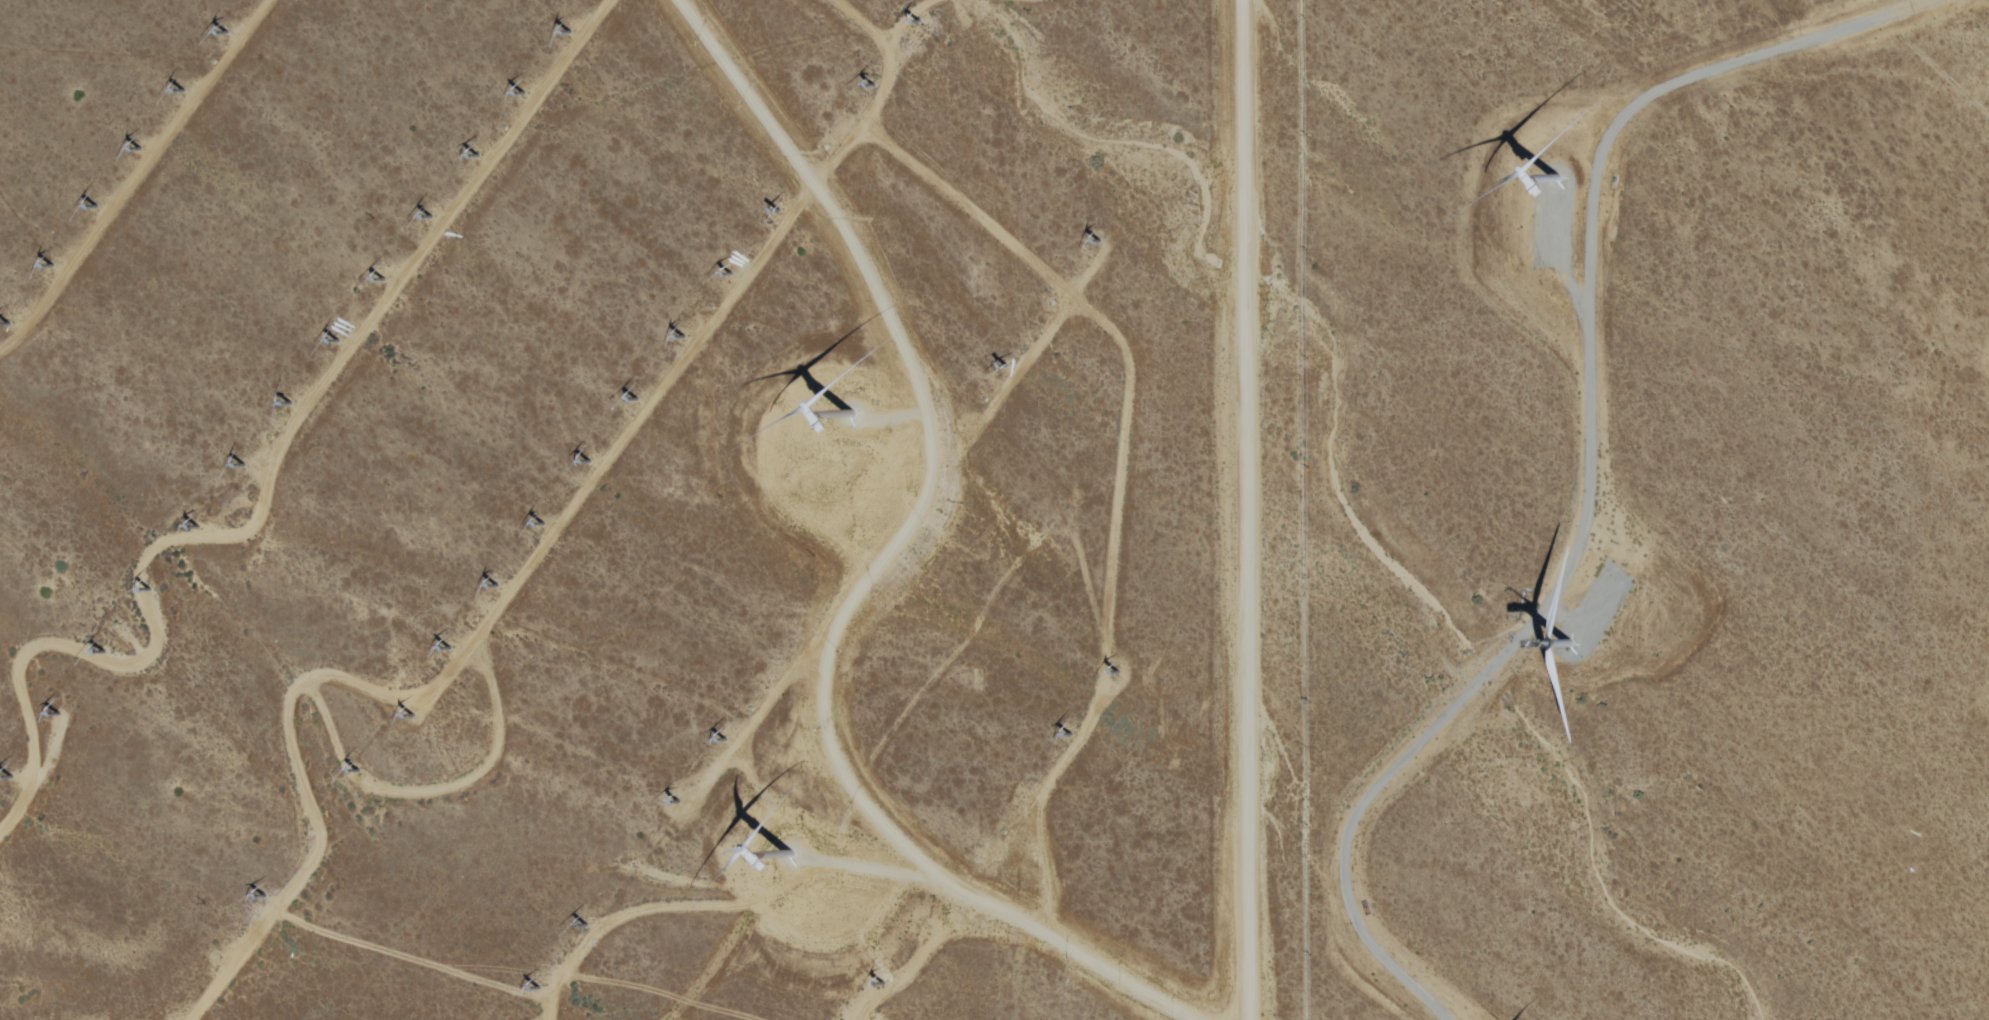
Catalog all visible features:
wind turbine: (910, 23)
wind turbine: (570, 32)
wind turbine: (228, 33)
wind turbine: (870, 87)
wind turbine: (184, 91)
wind turbine: (525, 93)
wind turbine: (143, 149)
wind turbine: (827, 149)
wind turbine: (483, 156)
road: (134, 180)
wind turbine: (1552, 185)
wind turbine: (96, 208)
wind turbine: (778, 209)
wind turbine: (433, 216)
wind turbine: (1097, 241)
wind turbine: (53, 266)
wind turbine: (730, 273)
wind turbine: (384, 280)
wind turbine: (1049, 303)
wind turbine: (9, 323)
wind turbine: (683, 336)
wind turbine: (339, 340)
wind turbine: (999, 366)
wind turbine: (637, 398)
wind turbine: (290, 403)
wind turbine: (857, 419)
wind turbine: (957, 428)
wind turbine: (589, 461)
wind turbine: (241, 465)
road: (266, 487)
wind turbine: (912, 489)
road: (1255, 510)
wind turbine: (543, 524)
wind turbine: (195, 528)
road: (542, 553)
wind turbine: (866, 553)
road: (1107, 577)
wind turbine: (498, 586)
wind turbine: (149, 591)
wind turbine: (810, 615)
wind turbine: (449, 649)
wind turbine: (106, 652)
wind turbine: (1560, 653)
wind turbine: (1118, 673)
wind turbine: (767, 677)
road: (790, 678)
wind turbine: (62, 714)
wind turbine: (413, 716)
wind turbine: (1073, 735)
wind turbine: (724, 741)
wind turbine: (366, 769)
wind turbine: (13, 776)
wind turbine: (1024, 798)
wind turbine: (679, 800)
wind turbine: (310, 833)
wind turbine: (975, 859)
wind turbine: (793, 862)
wind turbine: (638, 864)
wind turbine: (264, 897)
wind turbine: (929, 922)
wind turbine: (590, 926)
wind turbine: (217, 958)
wind turbine: (886, 983)
wind turbine: (540, 989)

